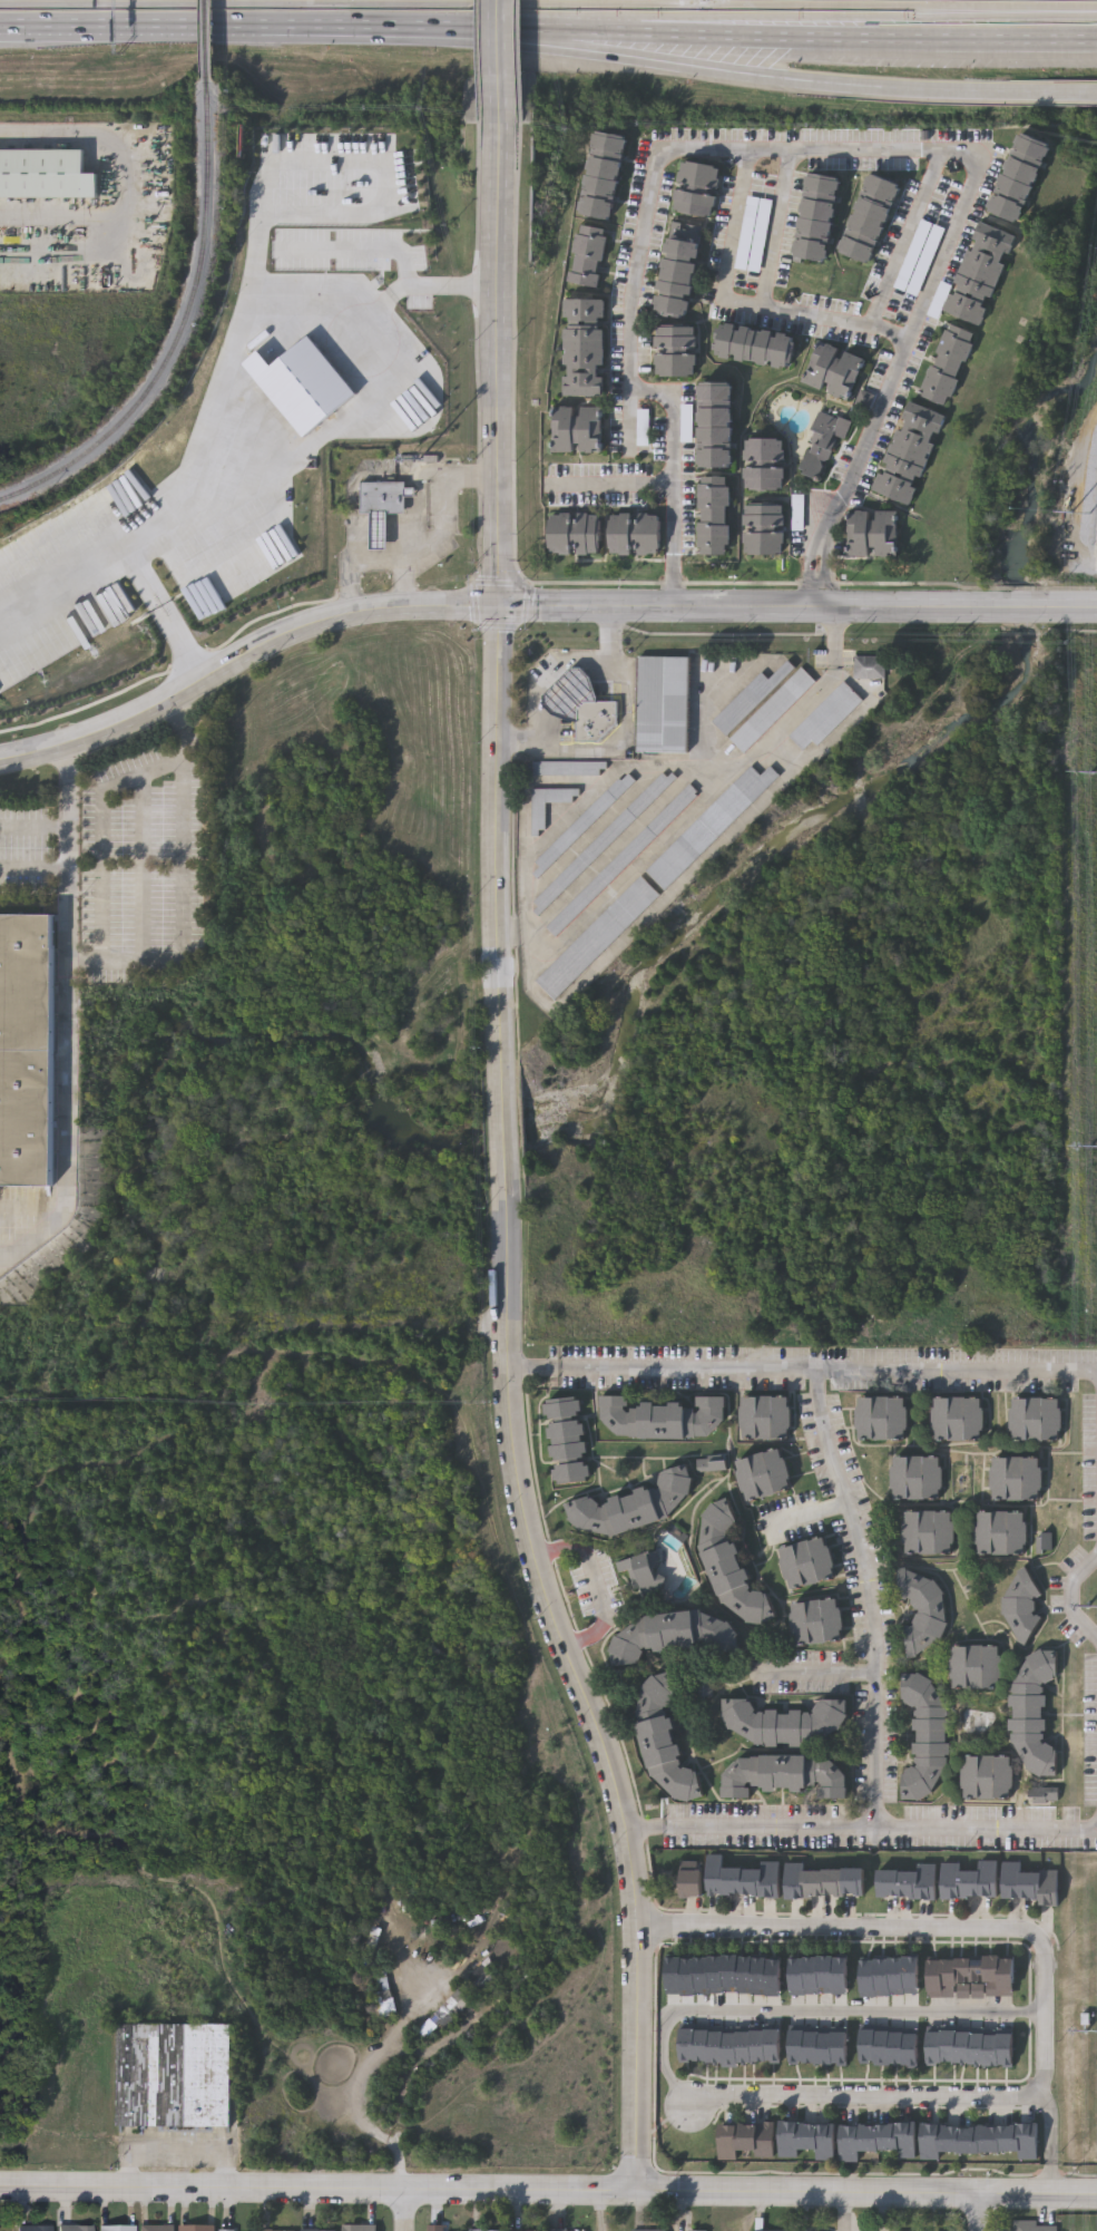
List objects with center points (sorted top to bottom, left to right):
road: (915, 14)
road: (687, 25)
road: (435, 27)
road: (197, 28)
road: (558, 29)
road: (758, 35)
road: (987, 39)
railway: (209, 41)
road: (505, 61)
road: (744, 72)
road: (743, 165)
building: (46, 175)
building: (605, 175)
building: (1022, 179)
building: (698, 188)
road: (117, 192)
building: (820, 218)
building: (875, 221)
road: (902, 237)
building: (588, 256)
building: (982, 274)
building: (678, 280)
road: (923, 304)
railway: (182, 333)
building: (756, 347)
building: (584, 349)
road: (629, 349)
building: (675, 352)
building: (951, 367)
building: (835, 372)
road: (219, 394)
building: (689, 427)
building: (717, 427)
building: (578, 430)
building: (646, 431)
building: (823, 444)
building: (913, 456)
building: (765, 466)
road: (609, 494)
road: (846, 496)
building: (382, 497)
power tower: (1086, 514)
building: (800, 515)
building: (715, 517)
building: (764, 519)
building: (379, 530)
building: (572, 534)
building: (634, 534)
building: (876, 537)
road: (419, 539)
building: (764, 545)
road: (417, 578)
traffic signals: (500, 608)
road: (694, 608)
road: (992, 608)
road: (183, 629)
road: (243, 659)
building: (872, 671)
road: (550, 673)
building: (569, 693)
gas station: (569, 693)
building: (750, 699)
building: (665, 707)
building: (770, 710)
building: (824, 717)
building: (595, 720)
road: (627, 734)
building: (567, 768)
building: (537, 817)
building: (584, 822)
building: (709, 825)
building: (603, 841)
road: (144, 849)
building: (621, 859)
road: (35, 860)
building: (596, 937)
road: (69, 1016)
building: (30, 1051)
road: (507, 1165)
road: (536, 1367)
road: (687, 1367)
road: (956, 1368)
building: (660, 1415)
building: (765, 1416)
building: (881, 1417)
building: (958, 1419)
building: (1036, 1420)
building: (566, 1440)
building: (715, 1467)
building: (764, 1473)
building: (917, 1478)
building: (1017, 1479)
building: (629, 1504)
road: (809, 1516)
road: (852, 1520)
building: (928, 1532)
building: (1001, 1533)
building: (809, 1561)
building: (728, 1565)
building: (641, 1579)
road: (596, 1585)
road: (1066, 1596)
building: (1021, 1605)
power tower: (1095, 1609)
building: (921, 1610)
building: (819, 1620)
building: (673, 1634)
building: (976, 1667)
road: (817, 1675)
building: (1032, 1714)
building: (784, 1721)
building: (923, 1740)
building: (664, 1741)
road: (876, 1752)
building: (781, 1775)
building: (990, 1780)
road: (758, 1829)
road: (978, 1829)
road: (646, 1834)
building: (744, 1878)
building: (969, 1880)
building: (693, 1881)
building: (909, 1882)
building: (829, 1884)
building: (1028, 1884)
road: (947, 1931)
building: (970, 1977)
road: (810, 2010)
building: (448, 2013)
power tower: (1096, 2032)
building: (731, 2045)
building: (969, 2047)
building: (175, 2076)
road: (866, 2100)
building: (747, 2139)
building: (979, 2139)
building: (878, 2140)
building: (812, 2142)
road: (178, 2152)
road: (1051, 2157)
road: (1051, 2179)
road: (418, 2188)
road: (966, 2192)
road: (401, 2209)
road: (978, 2212)
building: (1032, 2227)
building: (360, 2228)
building: (33, 2229)
building: (75, 2229)
building: (116, 2229)
building: (157, 2229)
building: (197, 2229)
building: (437, 2229)

